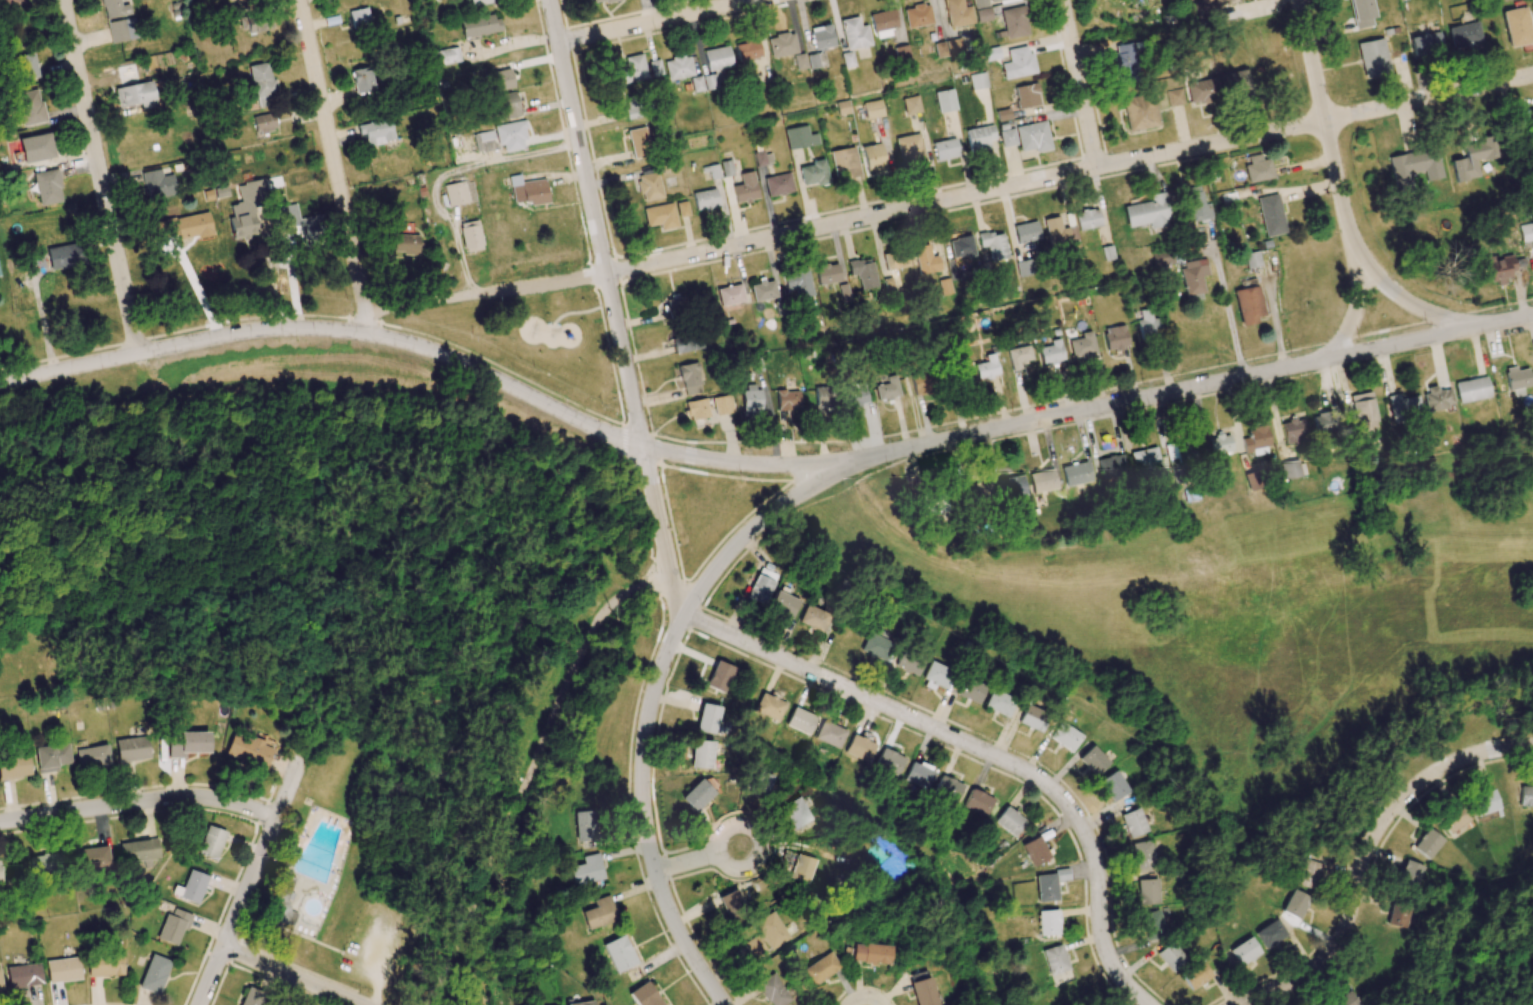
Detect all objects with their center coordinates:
building: (237, 0)
building: (1218, 0)
building: (600, 1)
building: (8, 2)
building: (480, 2)
building: (981, 3)
building: (114, 8)
building: (1207, 11)
building: (957, 13)
building: (1362, 13)
building: (917, 15)
building: (983, 15)
building: (360, 18)
building: (258, 21)
road: (657, 21)
building: (1014, 22)
building: (883, 23)
building: (480, 25)
building: (1517, 27)
building: (117, 31)
building: (854, 33)
building: (1464, 34)
building: (821, 37)
street lamp: (1077, 43)
building: (782, 45)
building: (1426, 45)
building: (943, 49)
building: (747, 50)
building: (991, 53)
building: (901, 55)
building: (446, 56)
building: (717, 58)
building: (1373, 58)
building: (847, 60)
building: (799, 61)
building: (812, 61)
building: (1018, 63)
building: (1123, 63)
building: (26, 67)
building: (655, 67)
building: (678, 67)
building: (631, 69)
building: (362, 80)
building: (498, 80)
building: (978, 81)
building: (705, 82)
building: (262, 83)
road: (1079, 83)
building: (1234, 84)
building: (1201, 91)
building: (136, 95)
building: (1027, 95)
building: (1174, 97)
building: (945, 100)
building: (505, 104)
building: (911, 105)
building: (30, 107)
building: (842, 107)
building: (631, 109)
building: (873, 109)
building: (1140, 112)
street lamp: (1300, 114)
road: (1324, 118)
building: (1531, 118)
building: (264, 122)
building: (376, 131)
street lamp: (1198, 132)
building: (501, 137)
building: (800, 137)
building: (979, 137)
building: (1027, 137)
building: (639, 142)
building: (37, 147)
building: (911, 148)
building: (946, 148)
street lamp: (1106, 151)
building: (762, 158)
building: (1474, 158)
building: (874, 159)
building: (845, 163)
building: (1415, 166)
road: (335, 168)
building: (726, 168)
building: (1258, 169)
building: (814, 173)
road: (101, 177)
building: (158, 184)
building: (778, 184)
building: (649, 186)
building: (47, 187)
building: (745, 188)
building: (528, 190)
building: (460, 193)
road: (950, 198)
building: (705, 199)
building: (1197, 205)
building: (246, 209)
building: (683, 209)
building: (1148, 211)
building: (1271, 215)
building: (288, 216)
building: (661, 216)
building: (1087, 219)
building: (183, 226)
building: (1026, 232)
building: (1056, 232)
building: (470, 236)
building: (405, 244)
building: (993, 245)
building: (961, 247)
building: (62, 256)
building: (1162, 257)
building: (1252, 259)
building: (890, 260)
building: (925, 260)
building: (863, 272)
road: (272, 273)
building: (827, 274)
building: (1194, 275)
building: (798, 283)
building: (891, 285)
building: (944, 286)
road: (200, 290)
building: (762, 291)
building: (843, 292)
building: (729, 295)
road: (612, 299)
road: (1404, 300)
road: (1356, 302)
building: (1248, 305)
building: (677, 306)
road: (1228, 313)
building: (1148, 324)
road: (329, 330)
building: (1115, 337)
building: (686, 341)
building: (1082, 345)
building: (1050, 352)
building: (987, 366)
building: (690, 378)
building: (1517, 380)
building: (1472, 389)
building: (855, 396)
building: (1436, 399)
building: (788, 400)
building: (751, 402)
building: (723, 404)
building: (697, 409)
building: (1403, 409)
road: (1089, 410)
building: (1326, 424)
building: (1294, 431)
building: (1256, 441)
building: (1217, 446)
building: (1142, 459)
building: (1111, 466)
building: (1292, 469)
building: (1075, 473)
building: (1042, 481)
building: (1010, 486)
road: (805, 491)
building: (981, 493)
building: (934, 507)
road: (721, 562)
building: (760, 589)
building: (783, 604)
building: (813, 618)
building: (875, 646)
building: (909, 662)
building: (720, 676)
building: (936, 676)
building: (971, 690)
building: (998, 702)
building: (769, 706)
building: (708, 718)
building: (1032, 718)
building: (800, 721)
building: (830, 734)
building: (1064, 736)
building: (187, 743)
building: (859, 747)
road: (975, 747)
building: (131, 749)
building: (249, 749)
building: (701, 754)
building: (92, 756)
building: (51, 757)
building: (1092, 760)
building: (889, 761)
building: (14, 766)
road: (536, 768)
building: (918, 774)
building: (760, 782)
building: (1113, 785)
building: (948, 788)
building: (697, 794)
building: (1526, 796)
road: (139, 802)
building: (978, 802)
road: (643, 807)
building: (795, 812)
building: (1453, 819)
building: (1009, 820)
building: (1132, 823)
building: (584, 826)
building: (211, 842)
building: (1427, 843)
building: (1035, 850)
building: (139, 851)
road: (262, 853)
building: (1142, 854)
road: (1365, 854)
building: (92, 857)
road: (699, 859)
building: (45, 864)
building: (802, 868)
building: (586, 870)
building: (1409, 873)
building: (1308, 874)
building: (0, 882)
building: (1050, 884)
building: (191, 887)
building: (1147, 891)
building: (731, 902)
building: (1295, 904)
building: (283, 905)
building: (599, 912)
building: (1399, 913)
building: (1048, 922)
building: (1152, 924)
building: (173, 926)
building: (770, 930)
building: (1270, 933)
building: (753, 946)
building: (1244, 951)
building: (619, 953)
building: (871, 953)
building: (1170, 956)
building: (1055, 959)
building: (104, 964)
building: (62, 969)
building: (820, 969)
building: (154, 974)
building: (23, 975)
building: (1195, 975)
road: (211, 976)
road: (292, 976)
building: (0, 984)
building: (922, 988)
building: (772, 990)
building: (644, 995)
building: (252, 997)
building: (1346, 1000)
building: (584, 1003)

